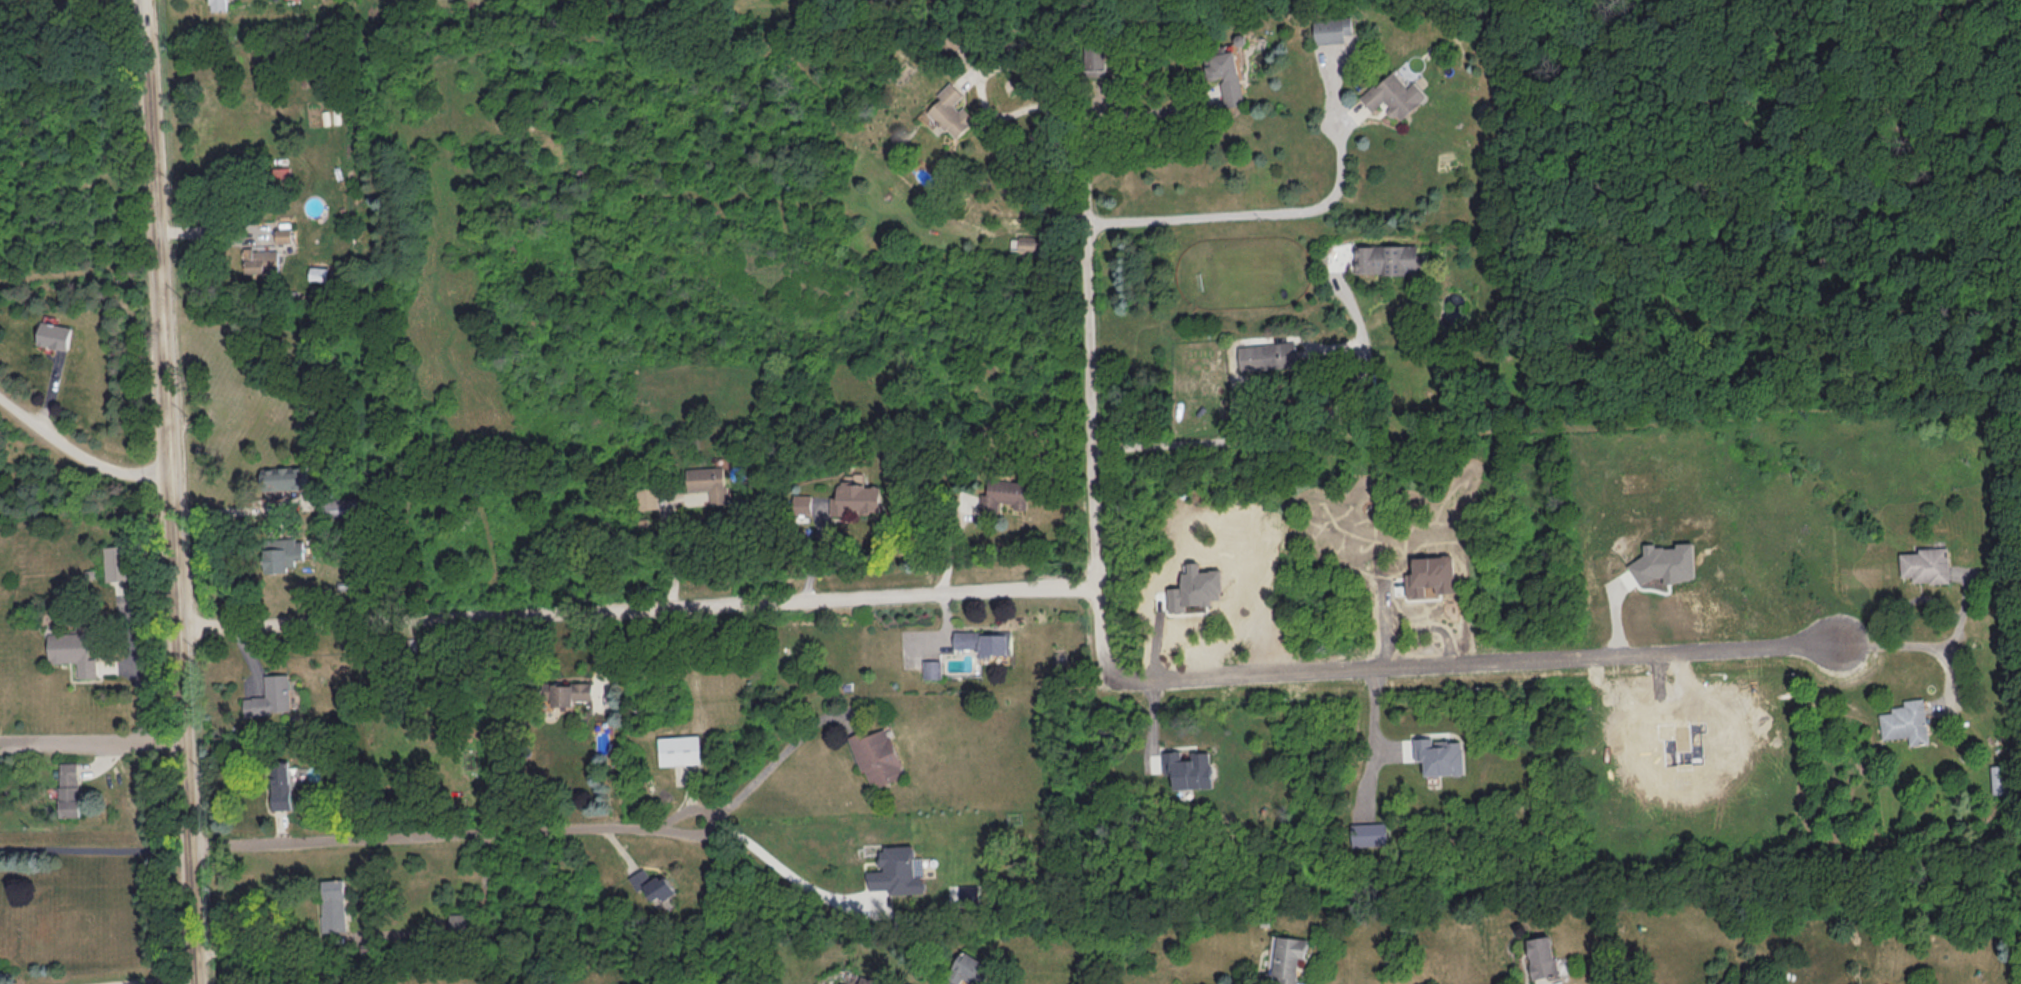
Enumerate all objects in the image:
building: (218, 4)
building: (1332, 29)
road: (143, 30)
building: (1094, 60)
road: (1039, 74)
building: (1226, 75)
building: (1394, 95)
building: (950, 110)
road: (1146, 111)
building: (281, 173)
road: (1249, 214)
road: (209, 229)
building: (284, 234)
building: (1027, 243)
building: (1386, 258)
building: (261, 259)
building: (319, 272)
building: (54, 334)
building: (1267, 354)
road: (1301, 435)
road: (77, 451)
building: (284, 476)
building: (709, 481)
building: (1004, 494)
building: (856, 495)
building: (646, 497)
building: (802, 503)
road: (173, 522)
road: (669, 550)
building: (282, 553)
building: (1664, 562)
building: (117, 564)
building: (1926, 564)
building: (1431, 575)
building: (1195, 587)
road: (639, 607)
road: (1962, 616)
building: (985, 641)
road: (1884, 644)
building: (75, 649)
building: (932, 668)
road: (1192, 683)
building: (567, 692)
building: (270, 696)
building: (1905, 721)
road: (92, 738)
road: (1370, 740)
building: (678, 749)
building: (1440, 755)
building: (877, 756)
road: (765, 766)
building: (1188, 768)
building: (280, 784)
building: (69, 788)
road: (439, 833)
building: (1368, 833)
road: (94, 848)
road: (772, 856)
building: (896, 871)
building: (652, 884)
building: (333, 905)
building: (461, 921)
road: (262, 947)
building: (1541, 956)
building: (1286, 958)
building: (969, 968)
road: (153, 980)

